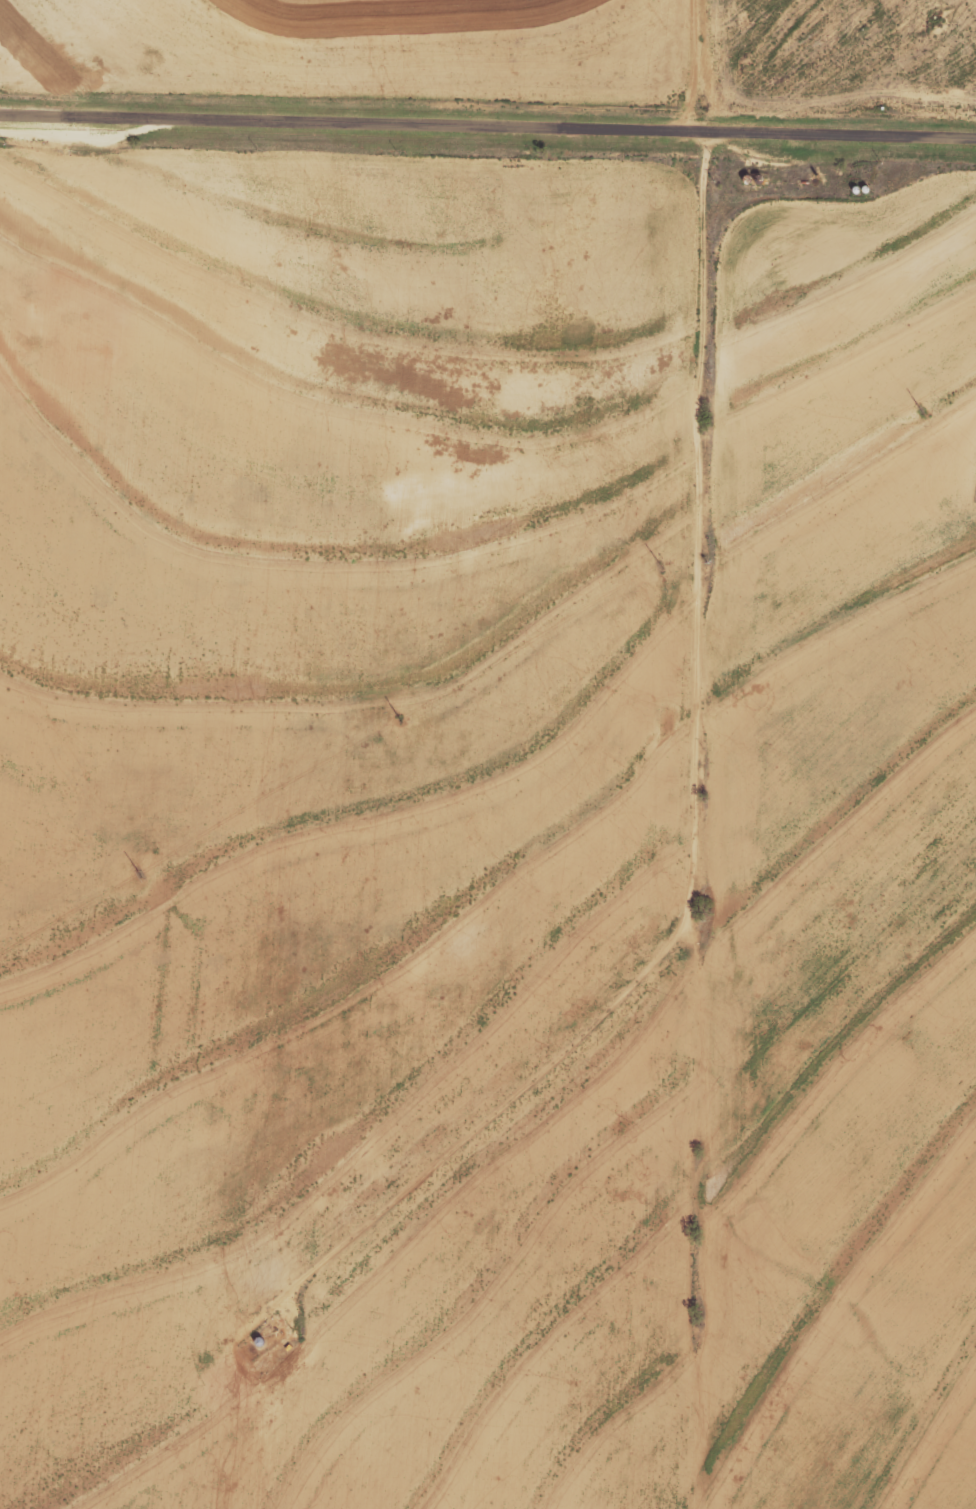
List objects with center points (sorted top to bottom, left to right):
road: (487, 123)
power tower: (919, 411)
power tower: (660, 567)
road: (680, 697)
power tower: (399, 721)
power tower: (138, 874)

